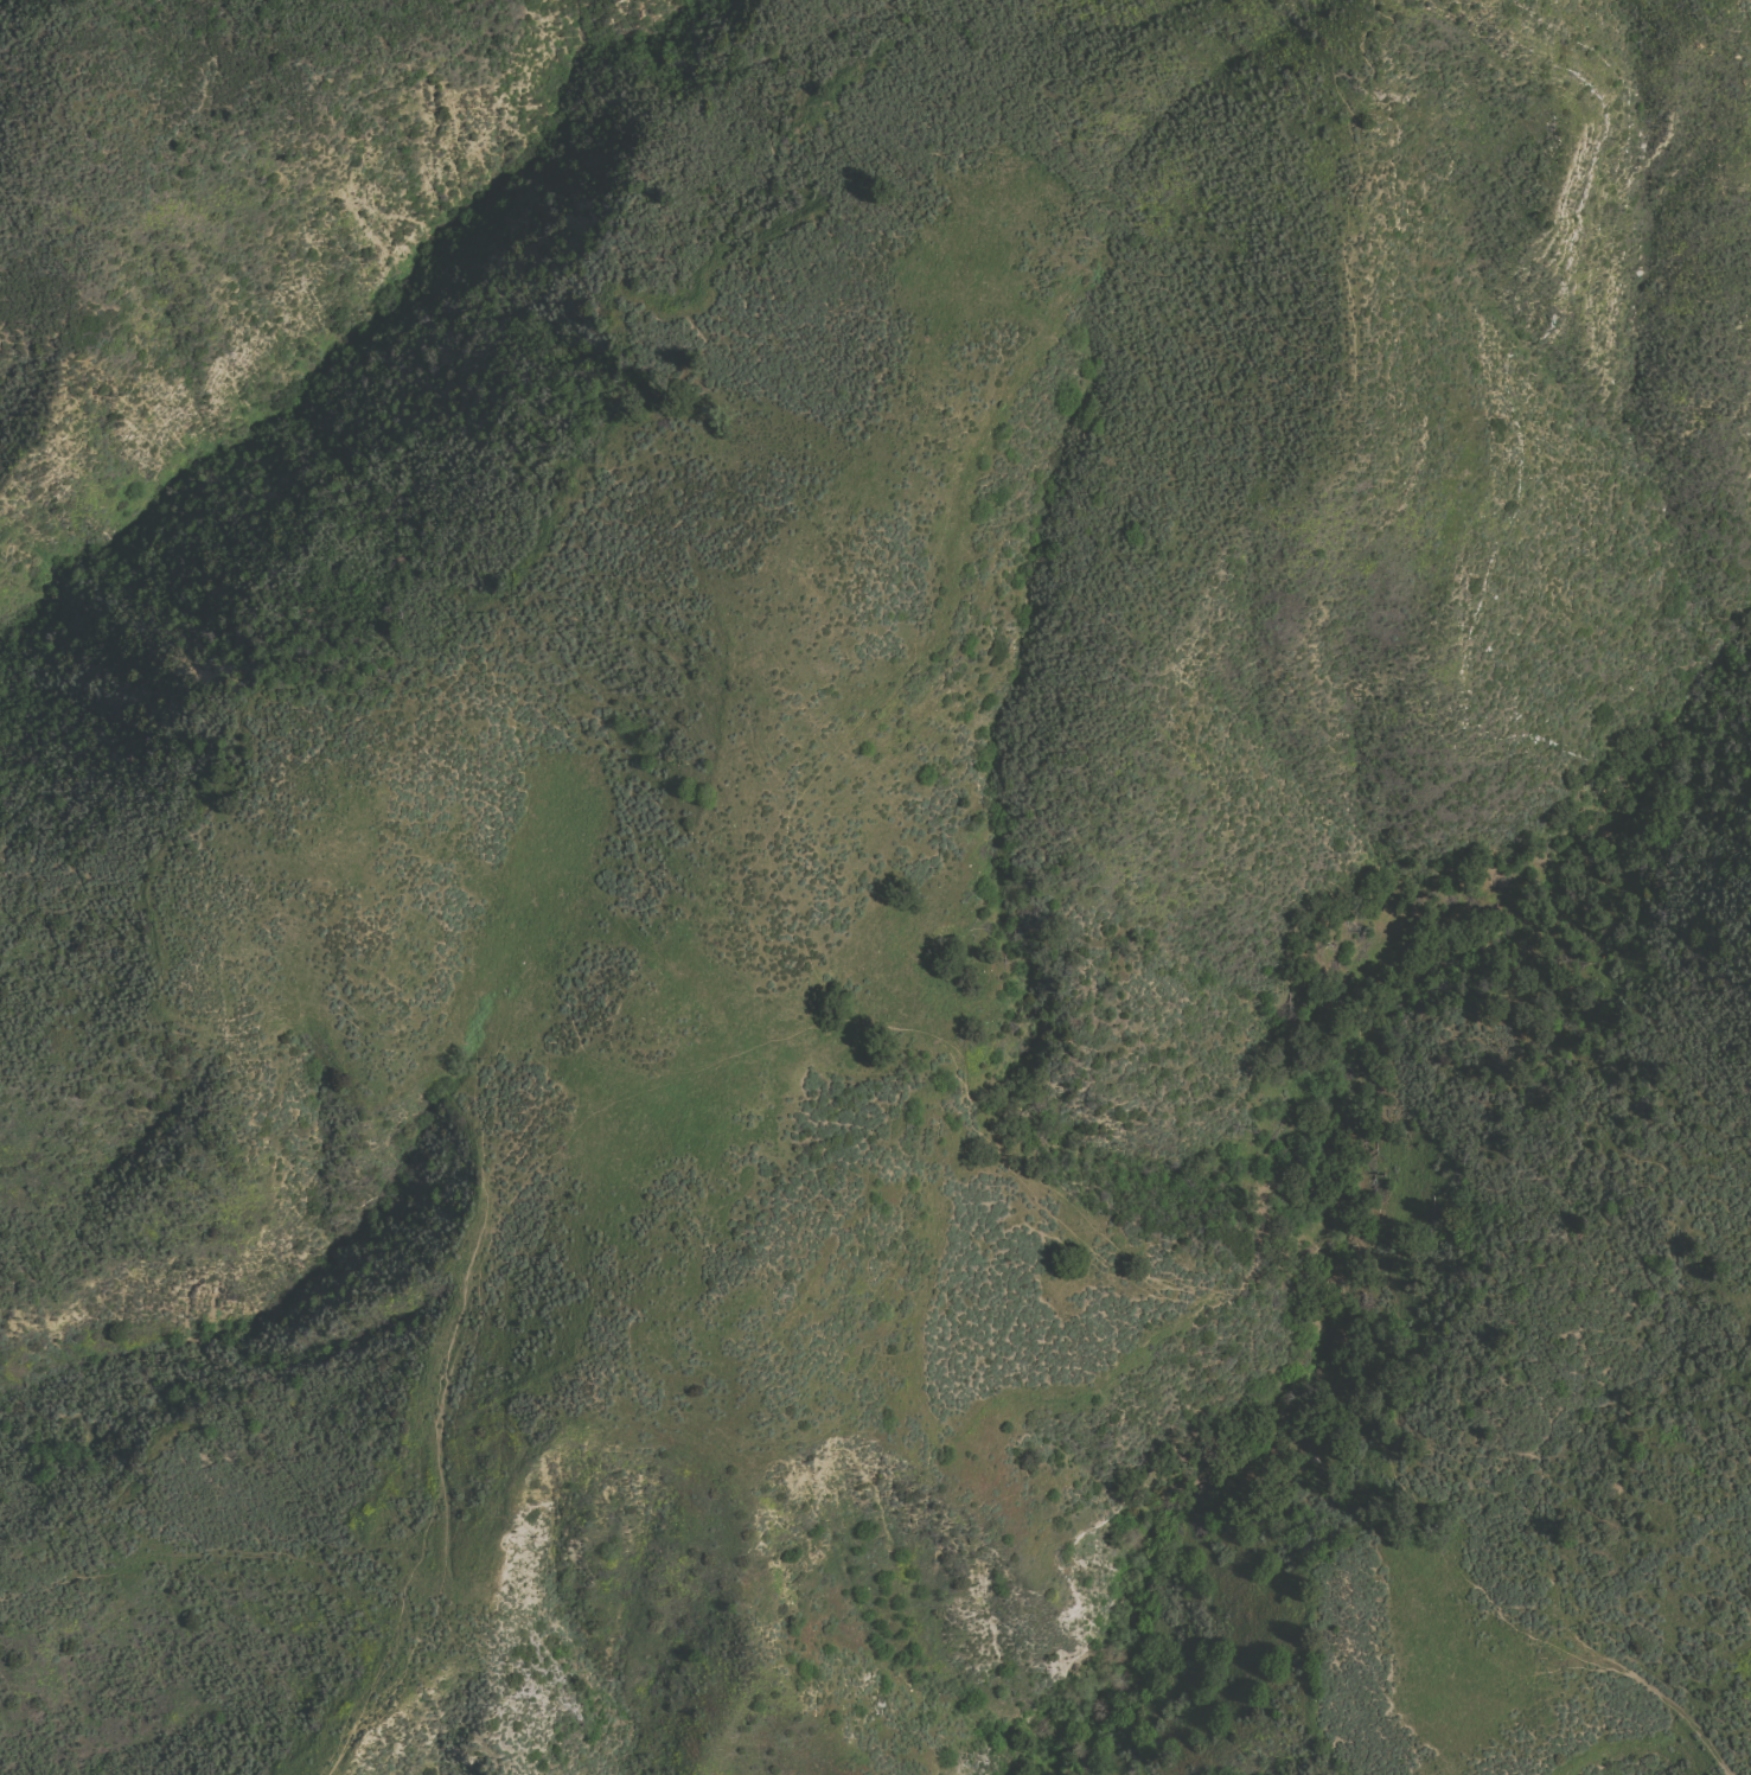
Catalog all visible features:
road: (1677, 1712)

